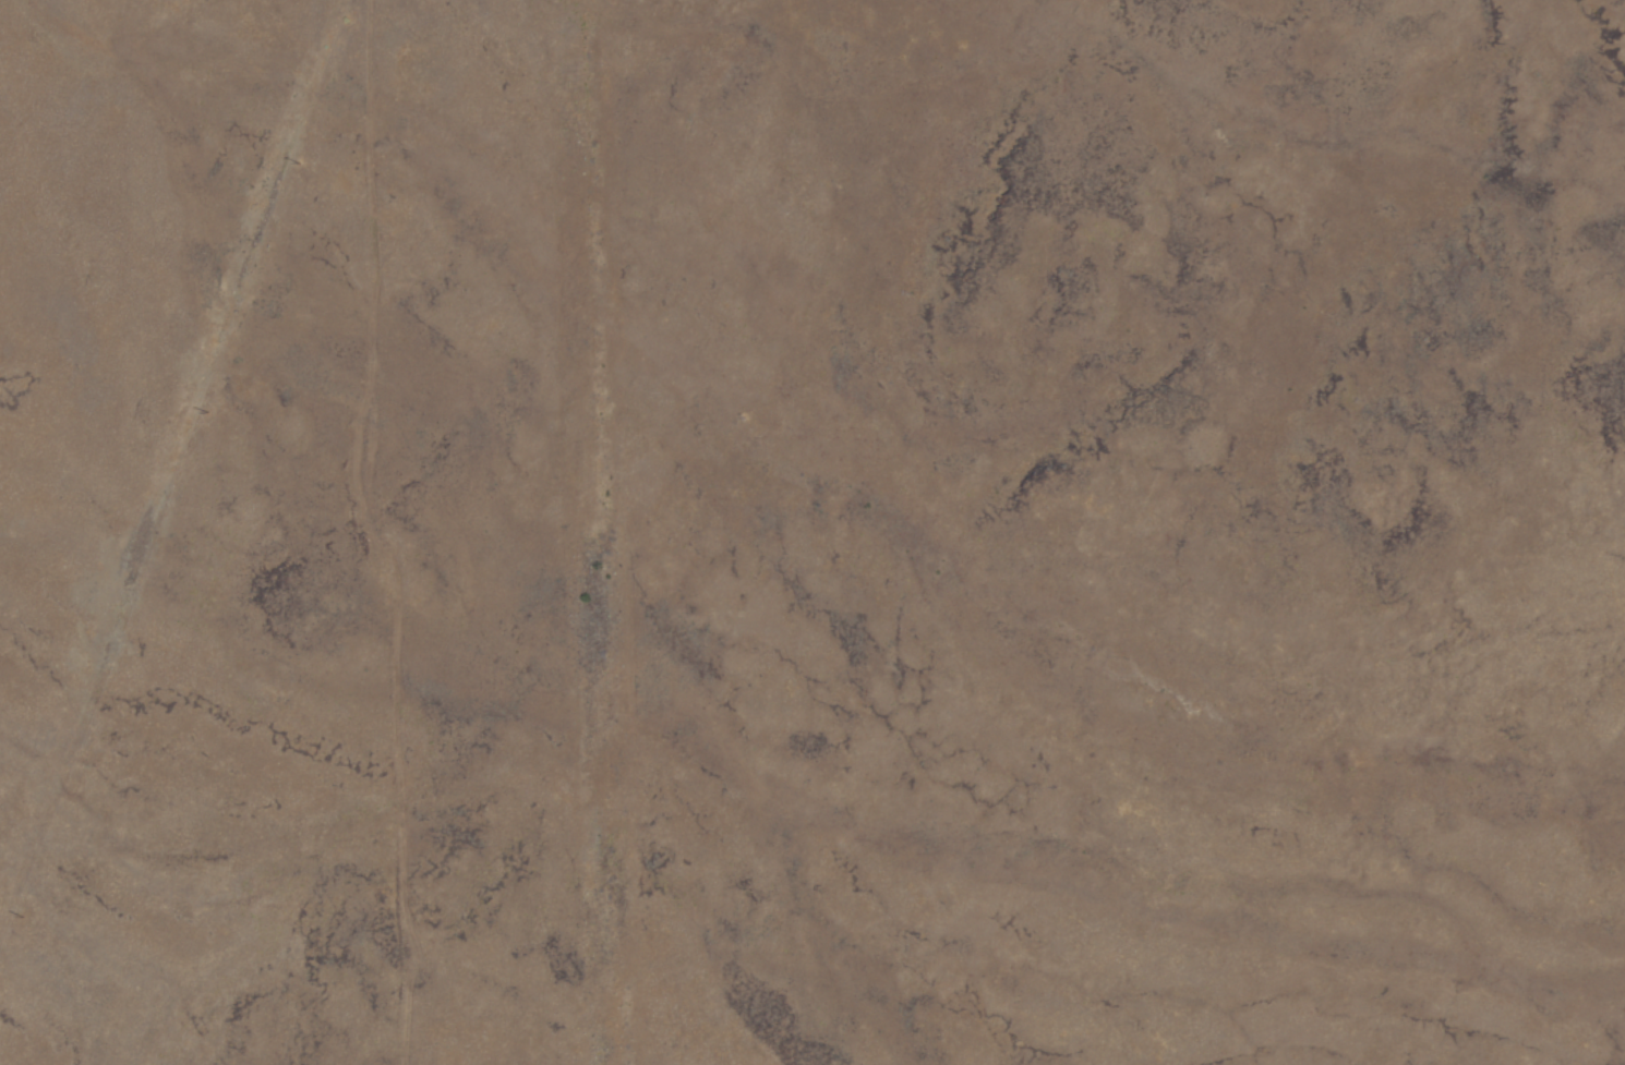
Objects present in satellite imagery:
road: (351, 532)

